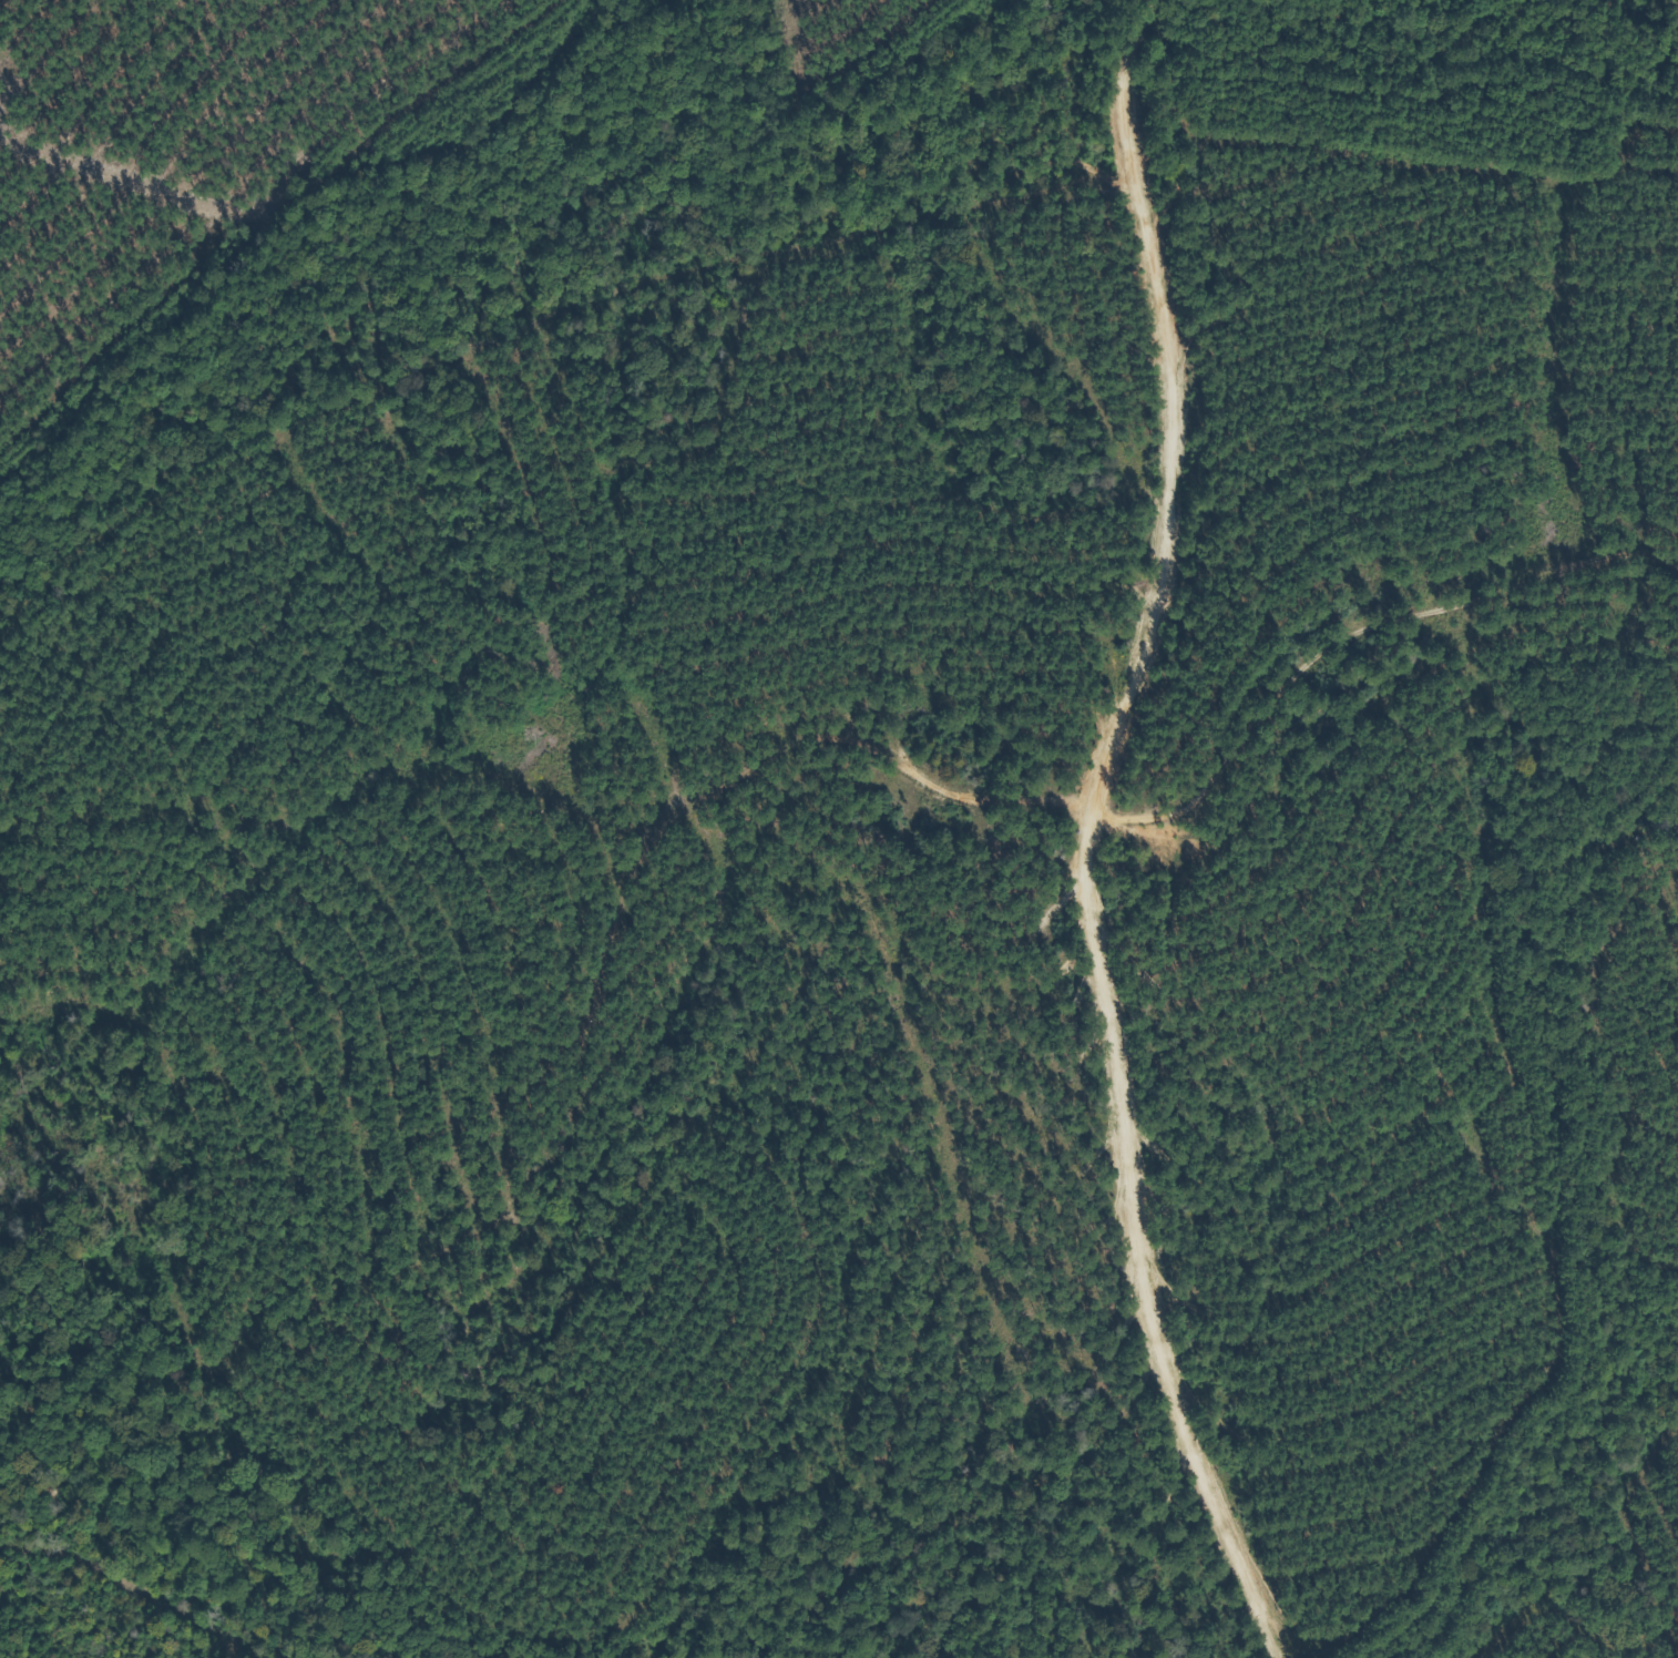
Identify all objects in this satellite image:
road: (528, 335)
road: (1382, 645)
road: (1106, 837)

